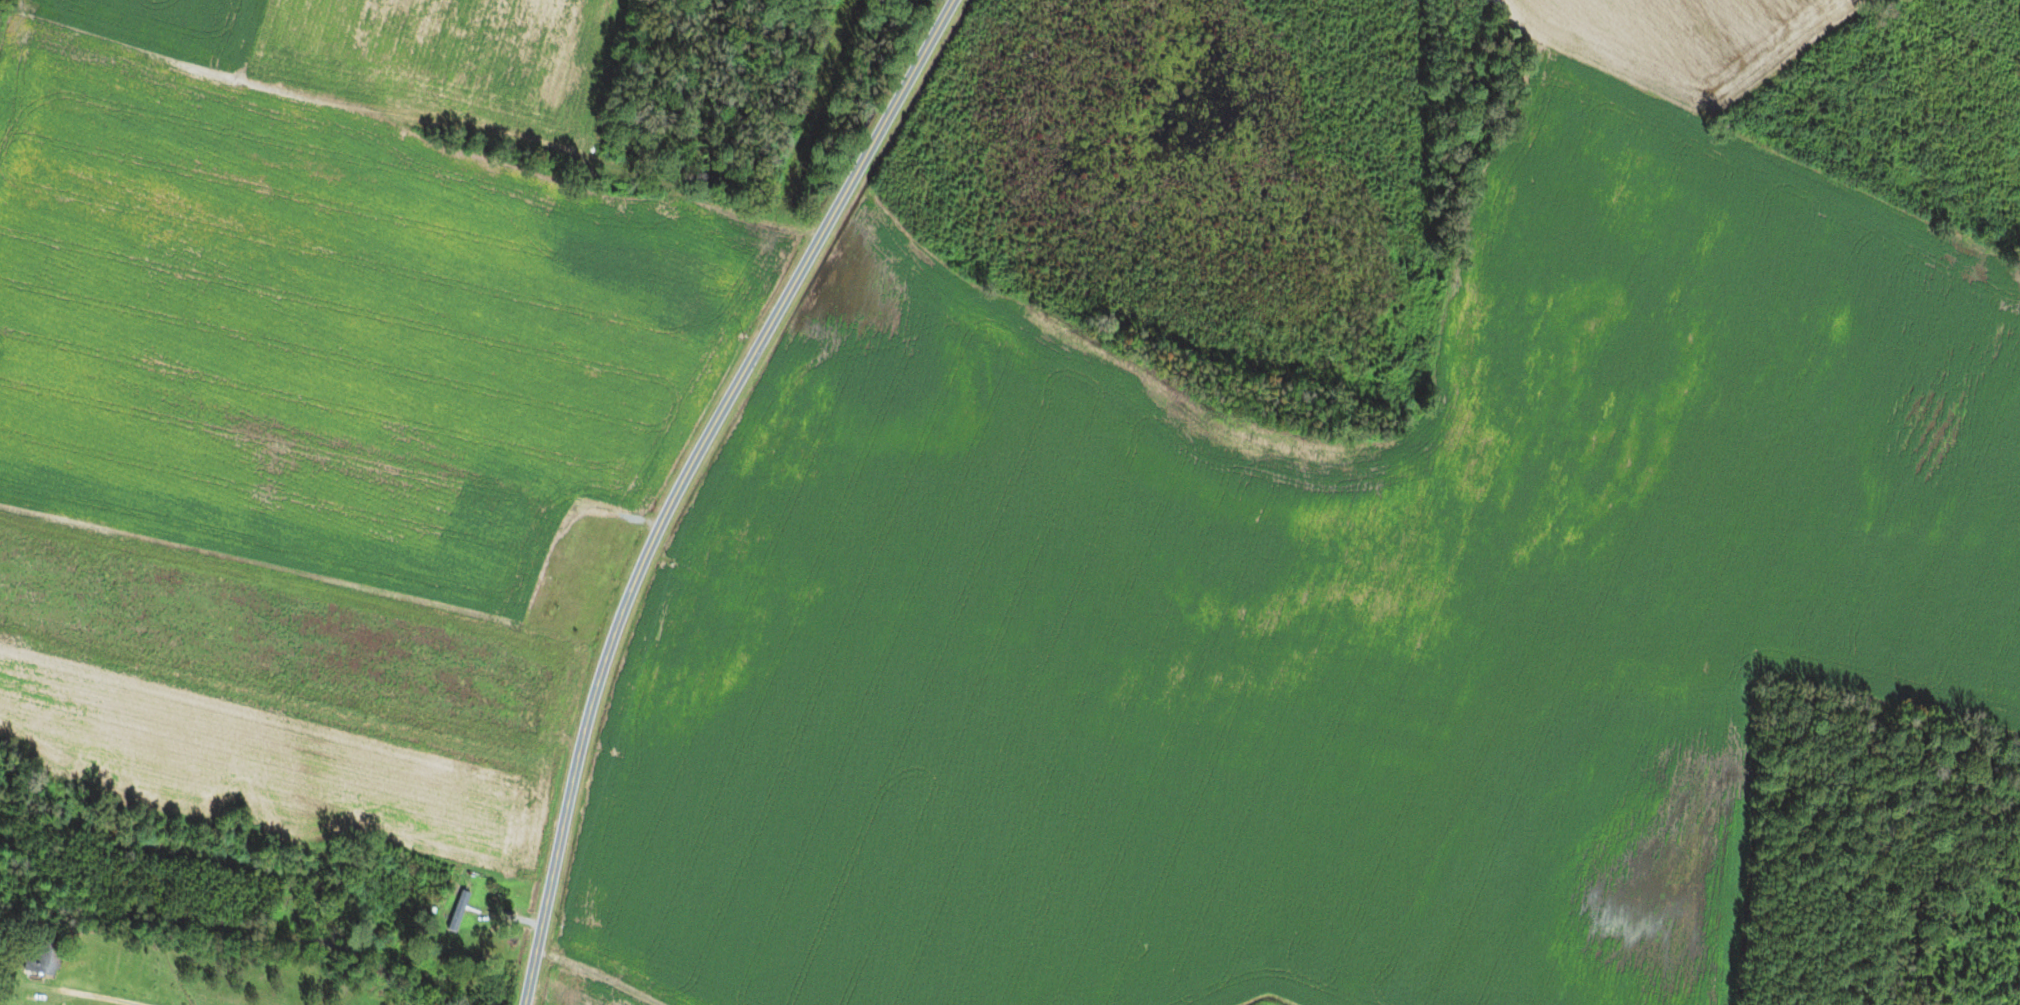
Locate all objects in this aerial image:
road: (681, 480)
building: (574, 537)
building: (553, 597)
road: (997, 643)
road: (1353, 650)
building: (427, 891)
building: (457, 911)
building: (41, 958)
road: (585, 979)
road: (117, 1001)

